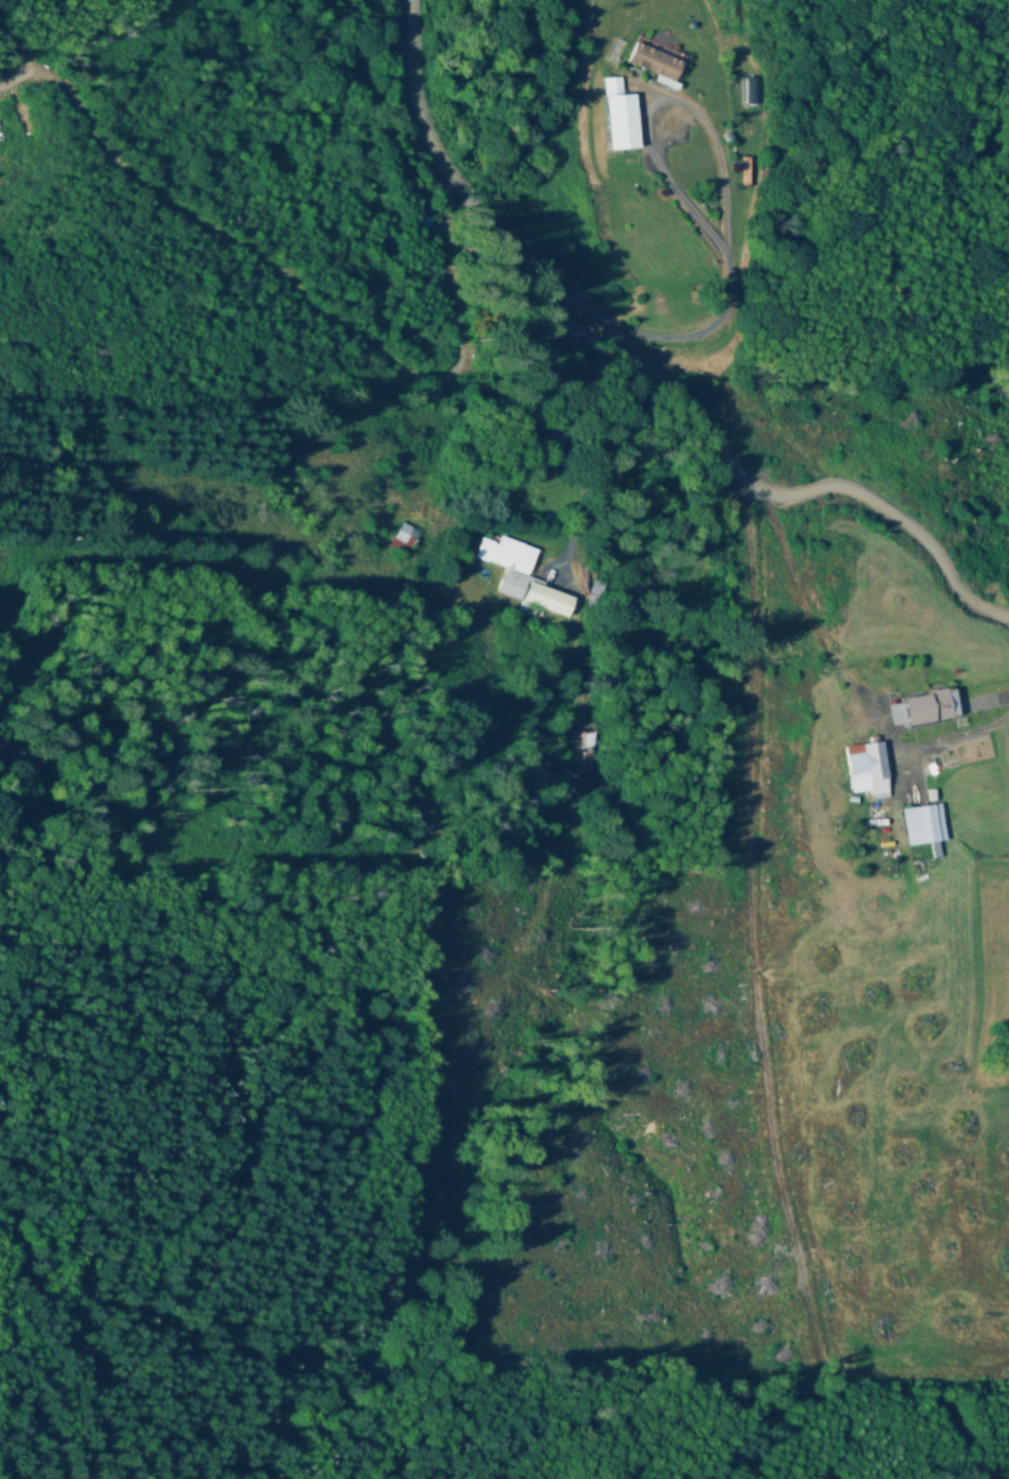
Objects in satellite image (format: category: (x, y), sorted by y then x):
building: (672, 56)
building: (648, 116)
road: (626, 360)
building: (558, 439)
building: (404, 540)
building: (522, 578)
building: (926, 710)
building: (591, 754)
building: (872, 767)
building: (925, 826)

